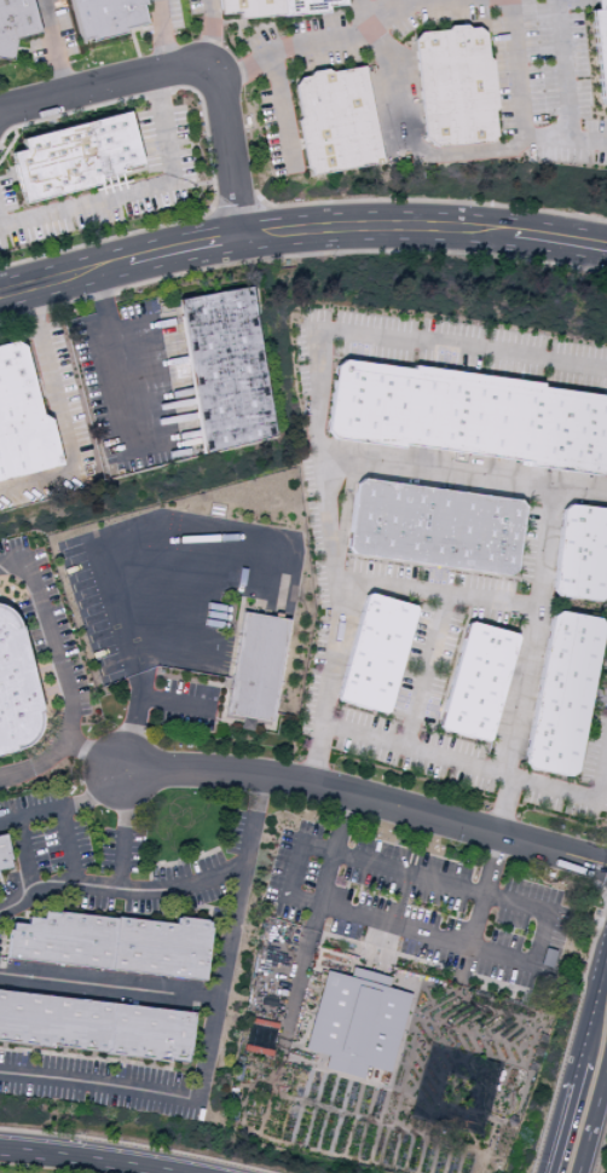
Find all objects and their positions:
road: (398, 4)
building: (307, 6)
building: (250, 8)
building: (106, 17)
building: (15, 24)
road: (209, 33)
road: (160, 35)
road: (53, 47)
road: (307, 47)
building: (599, 48)
road: (187, 65)
road: (557, 70)
building: (452, 87)
road: (279, 108)
building: (334, 121)
road: (563, 139)
road: (476, 152)
building: (74, 157)
road: (140, 191)
road: (0, 225)
road: (376, 226)
road: (560, 237)
road: (183, 247)
road: (62, 276)
building: (226, 369)
road: (314, 383)
road: (58, 415)
building: (469, 416)
building: (22, 420)
road: (134, 438)
road: (433, 470)
building: (434, 527)
road: (110, 544)
building: (580, 554)
road: (389, 584)
road: (501, 602)
road: (51, 636)
road: (207, 637)
building: (375, 653)
building: (256, 669)
building: (476, 682)
building: (16, 689)
road: (518, 693)
building: (562, 694)
road: (138, 701)
road: (94, 752)
road: (412, 752)
road: (313, 753)
road: (36, 762)
road: (88, 787)
road: (561, 793)
road: (368, 796)
road: (60, 826)
building: (4, 854)
road: (372, 863)
road: (31, 883)
road: (167, 892)
road: (16, 897)
road: (229, 932)
road: (456, 943)
building: (114, 944)
road: (295, 975)
building: (355, 1023)
building: (94, 1027)
road: (207, 1040)
road: (577, 1065)
road: (589, 1110)
road: (76, 1161)

